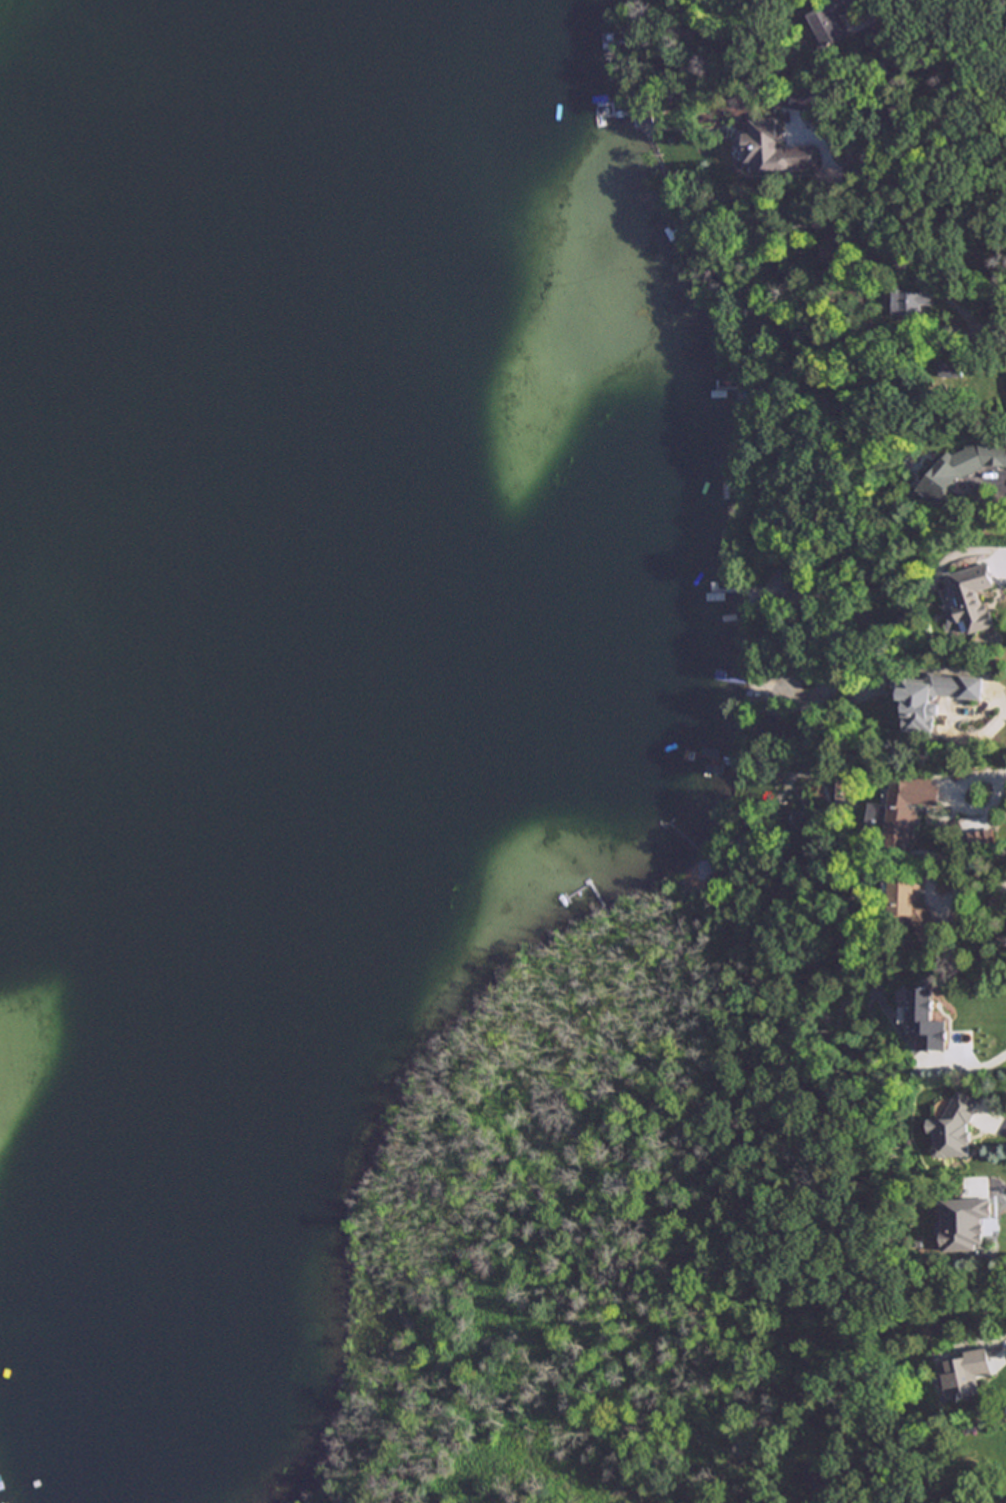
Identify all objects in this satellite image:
building: (830, 20)
road: (933, 72)
road: (961, 122)
building: (794, 148)
building: (836, 243)
building: (867, 251)
building: (909, 302)
road: (969, 322)
building: (949, 369)
building: (960, 469)
road: (997, 478)
road: (1002, 557)
building: (973, 597)
building: (934, 698)
building: (771, 721)
road: (949, 730)
road: (957, 801)
building: (904, 809)
building: (981, 837)
building: (912, 904)
building: (998, 904)
building: (927, 1020)
road: (977, 1065)
road: (992, 1120)
building: (955, 1127)
road: (986, 1187)
building: (965, 1223)
building: (965, 1374)

